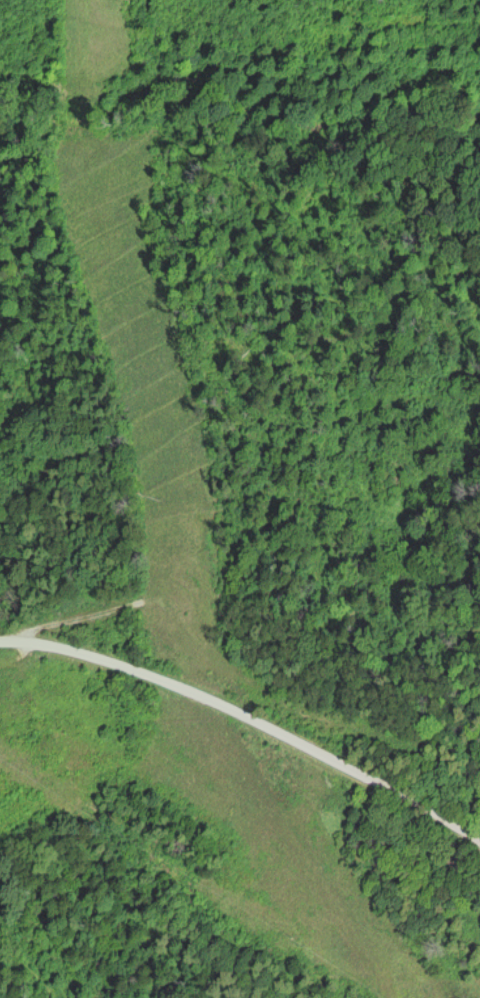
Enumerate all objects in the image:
road: (248, 717)

